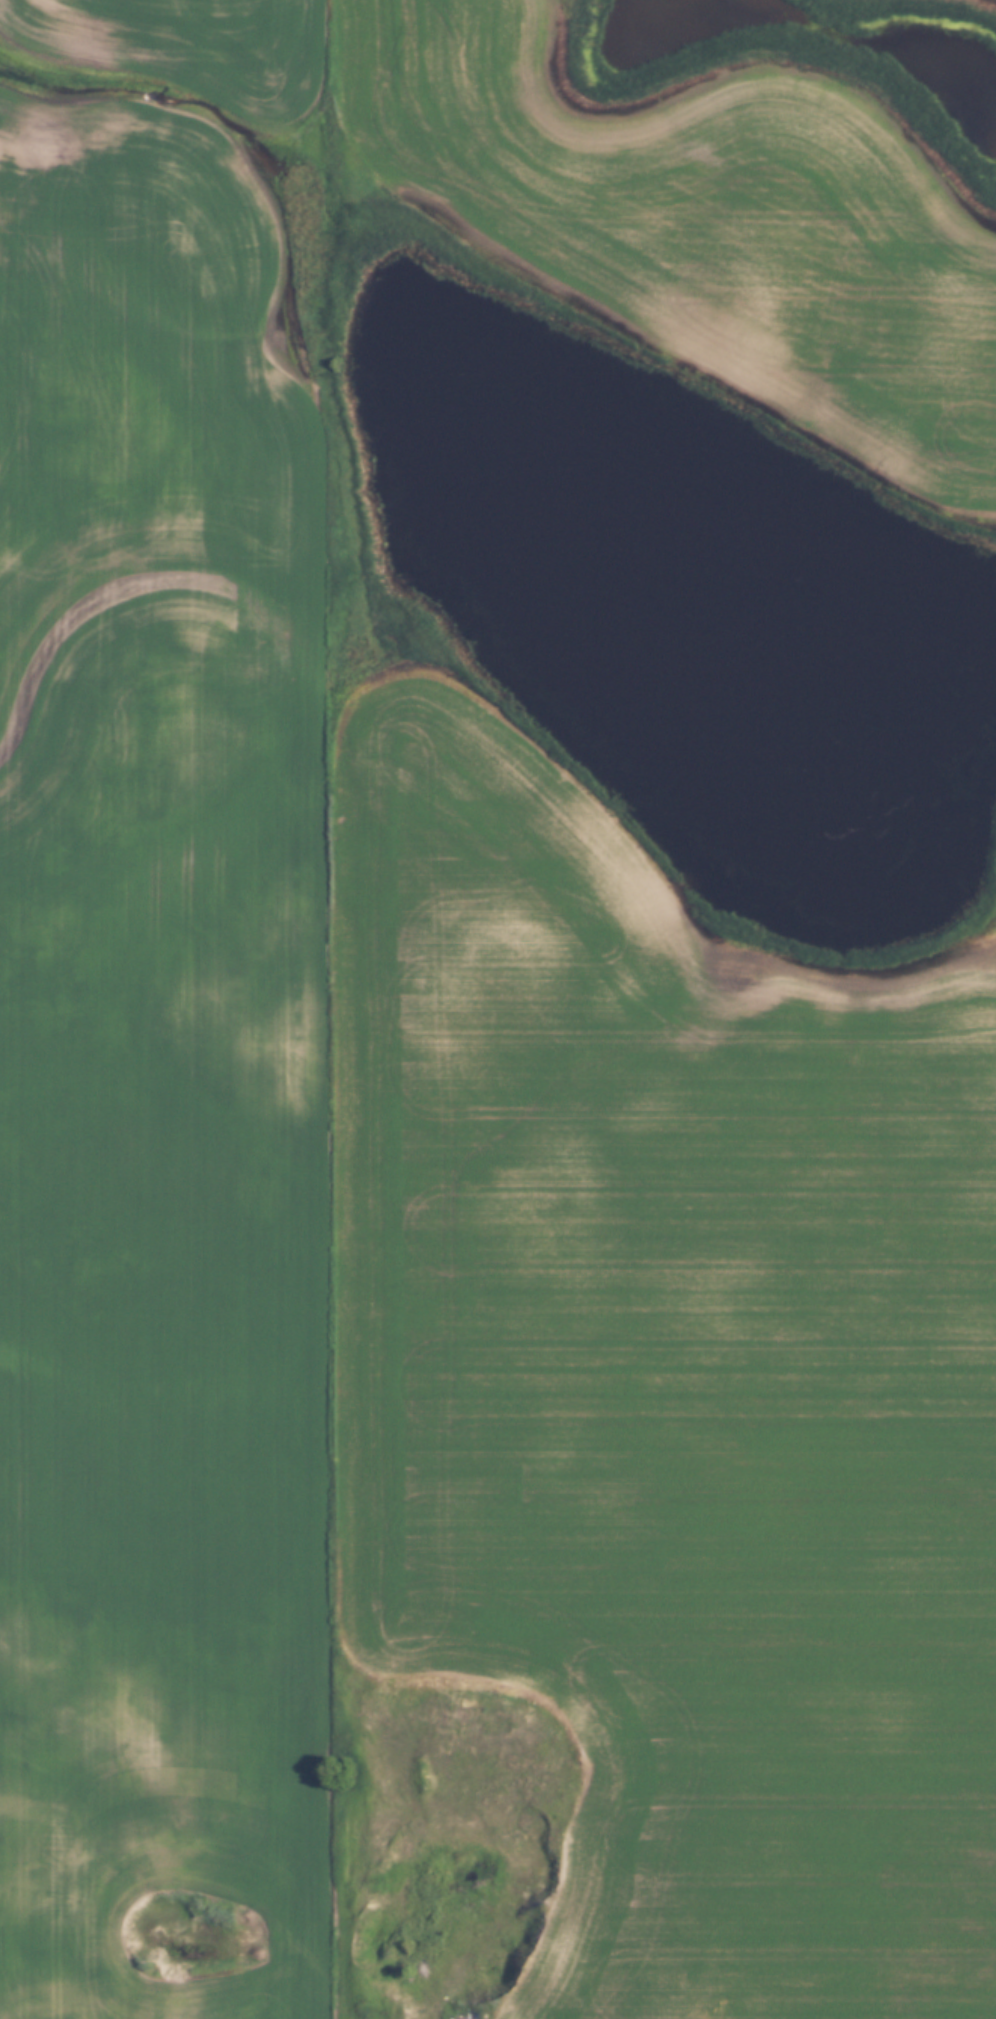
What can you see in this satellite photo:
road: (578, 1882)

